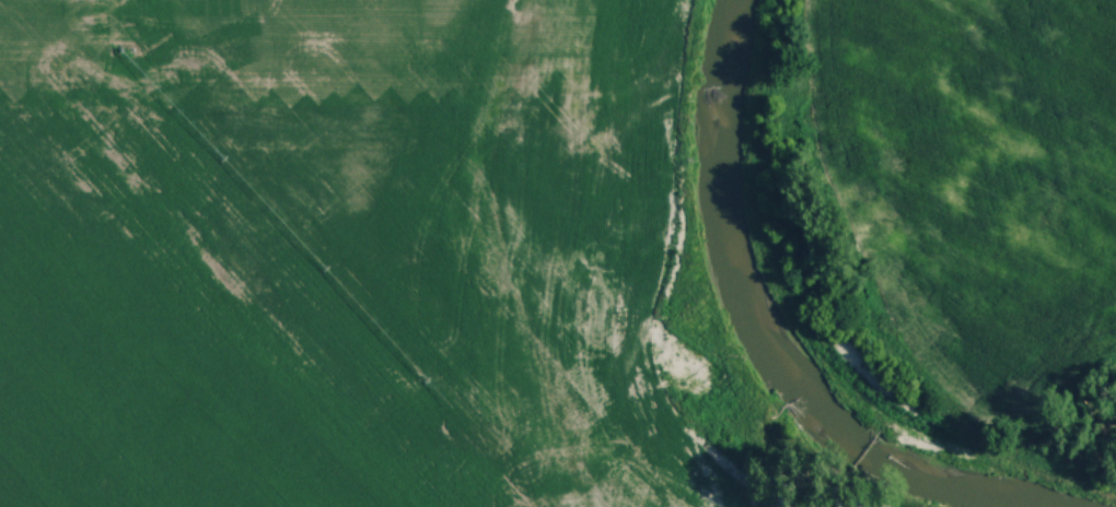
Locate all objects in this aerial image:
river: (767, 328)

